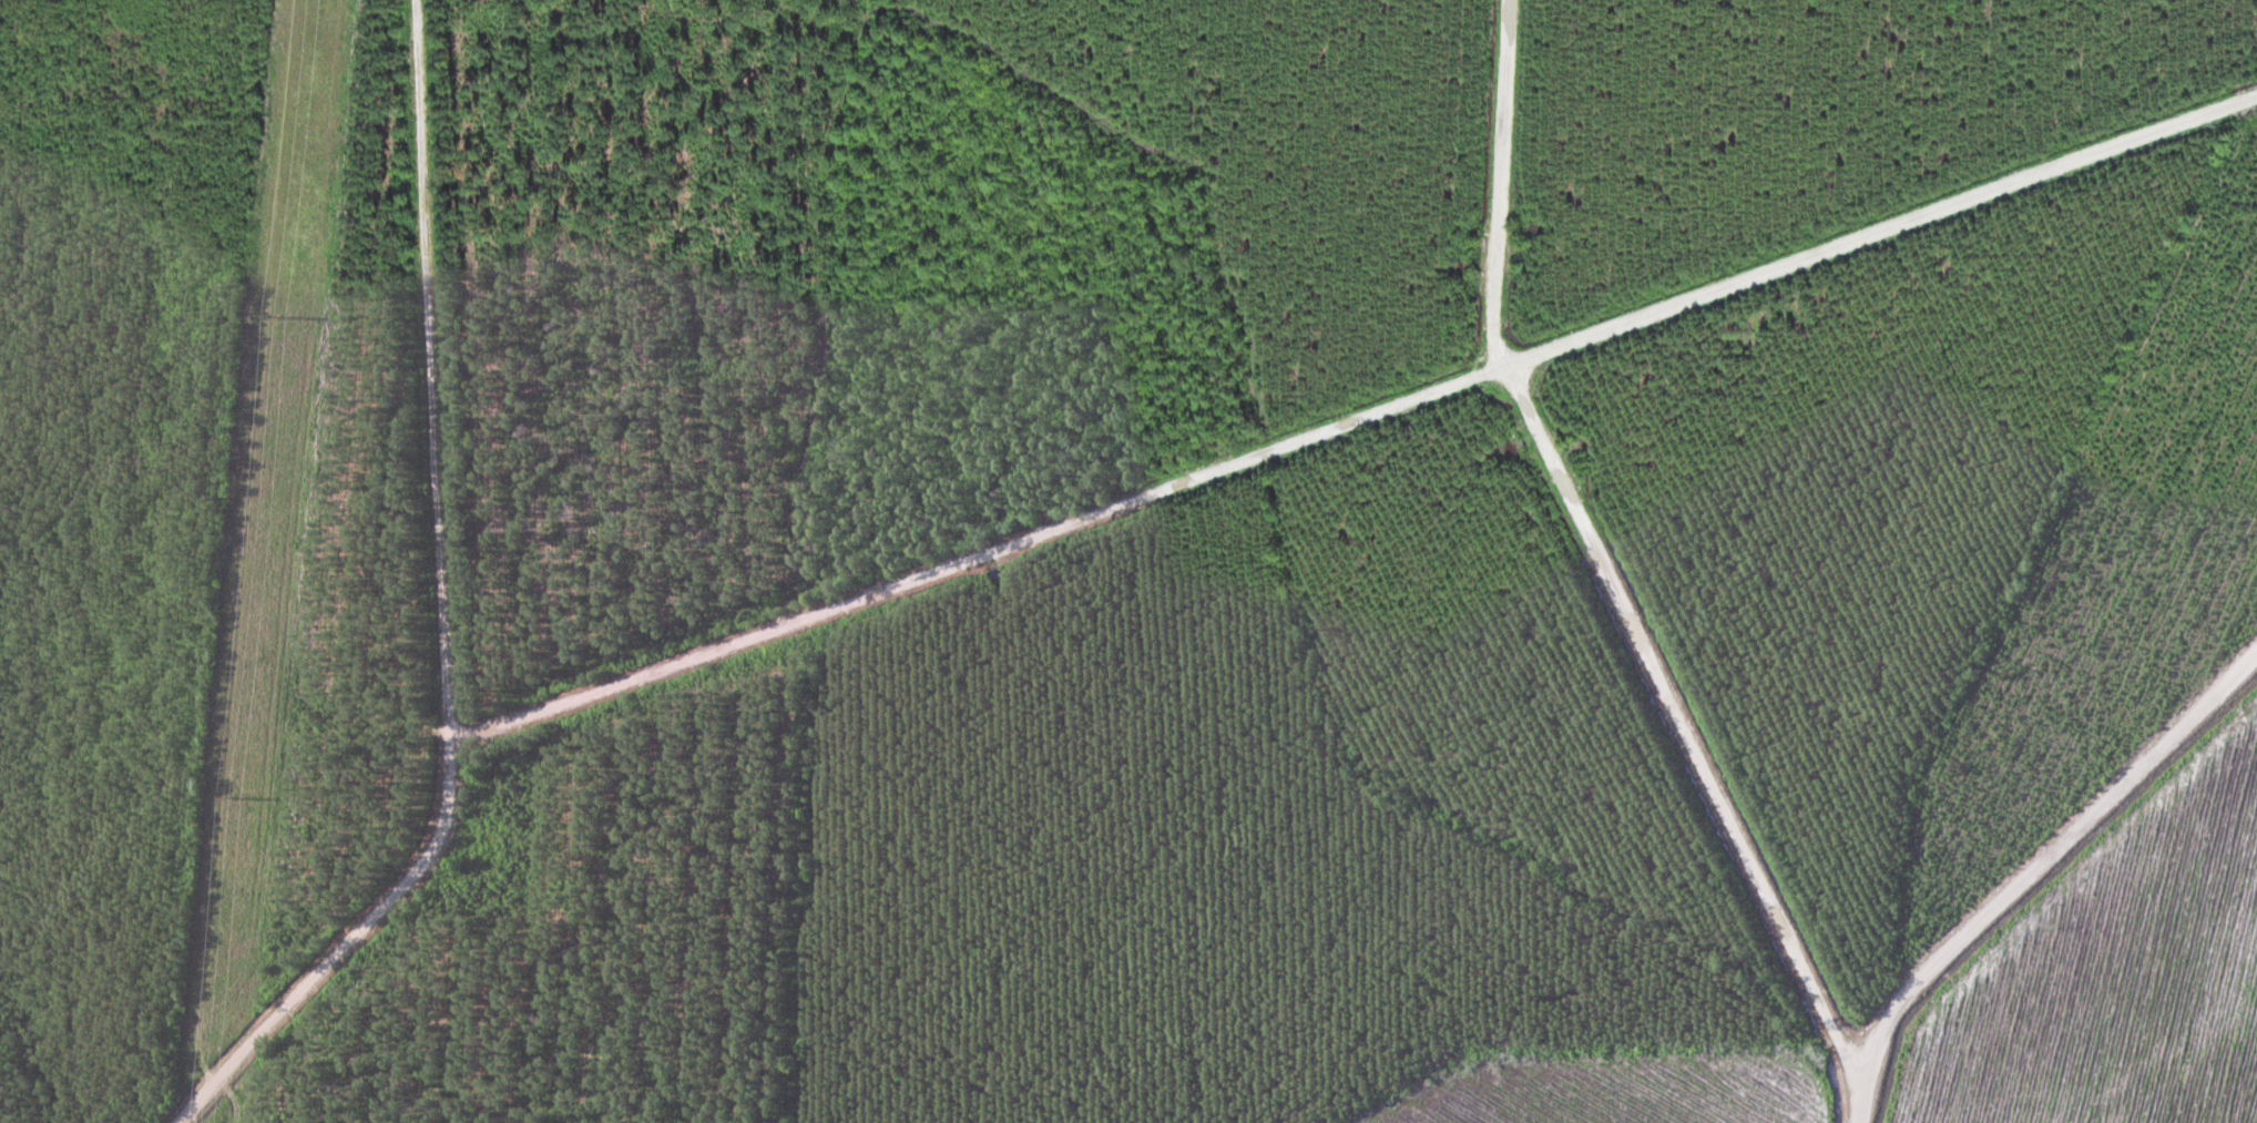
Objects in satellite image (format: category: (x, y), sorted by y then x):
power tower: (284, 318)
road: (1362, 409)
road: (452, 617)
power tower: (237, 799)
road: (1701, 818)

